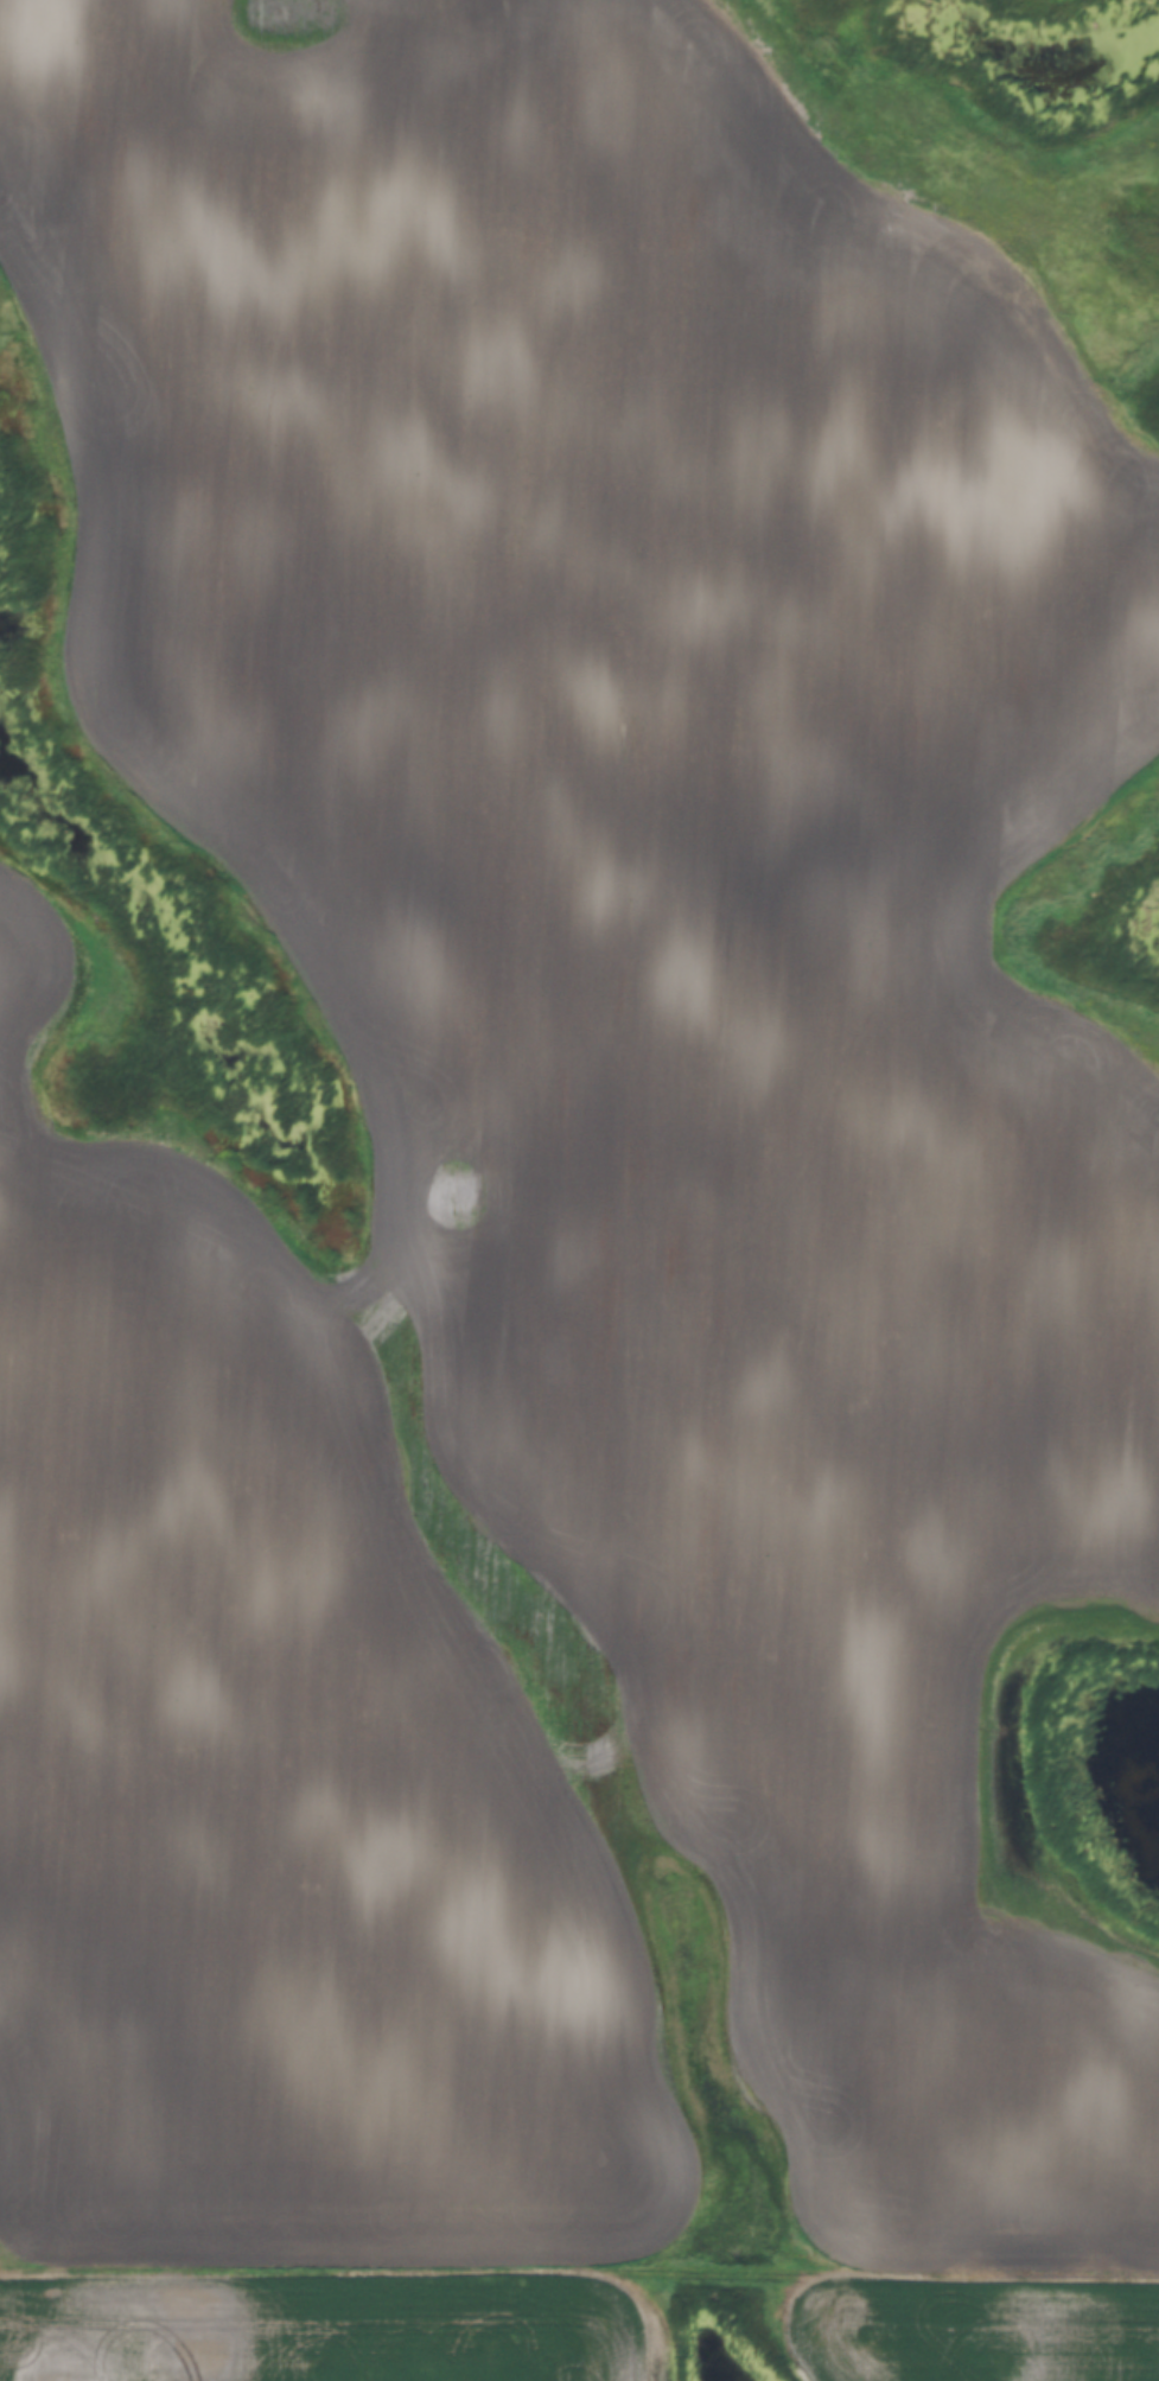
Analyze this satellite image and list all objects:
road: (579, 2300)

